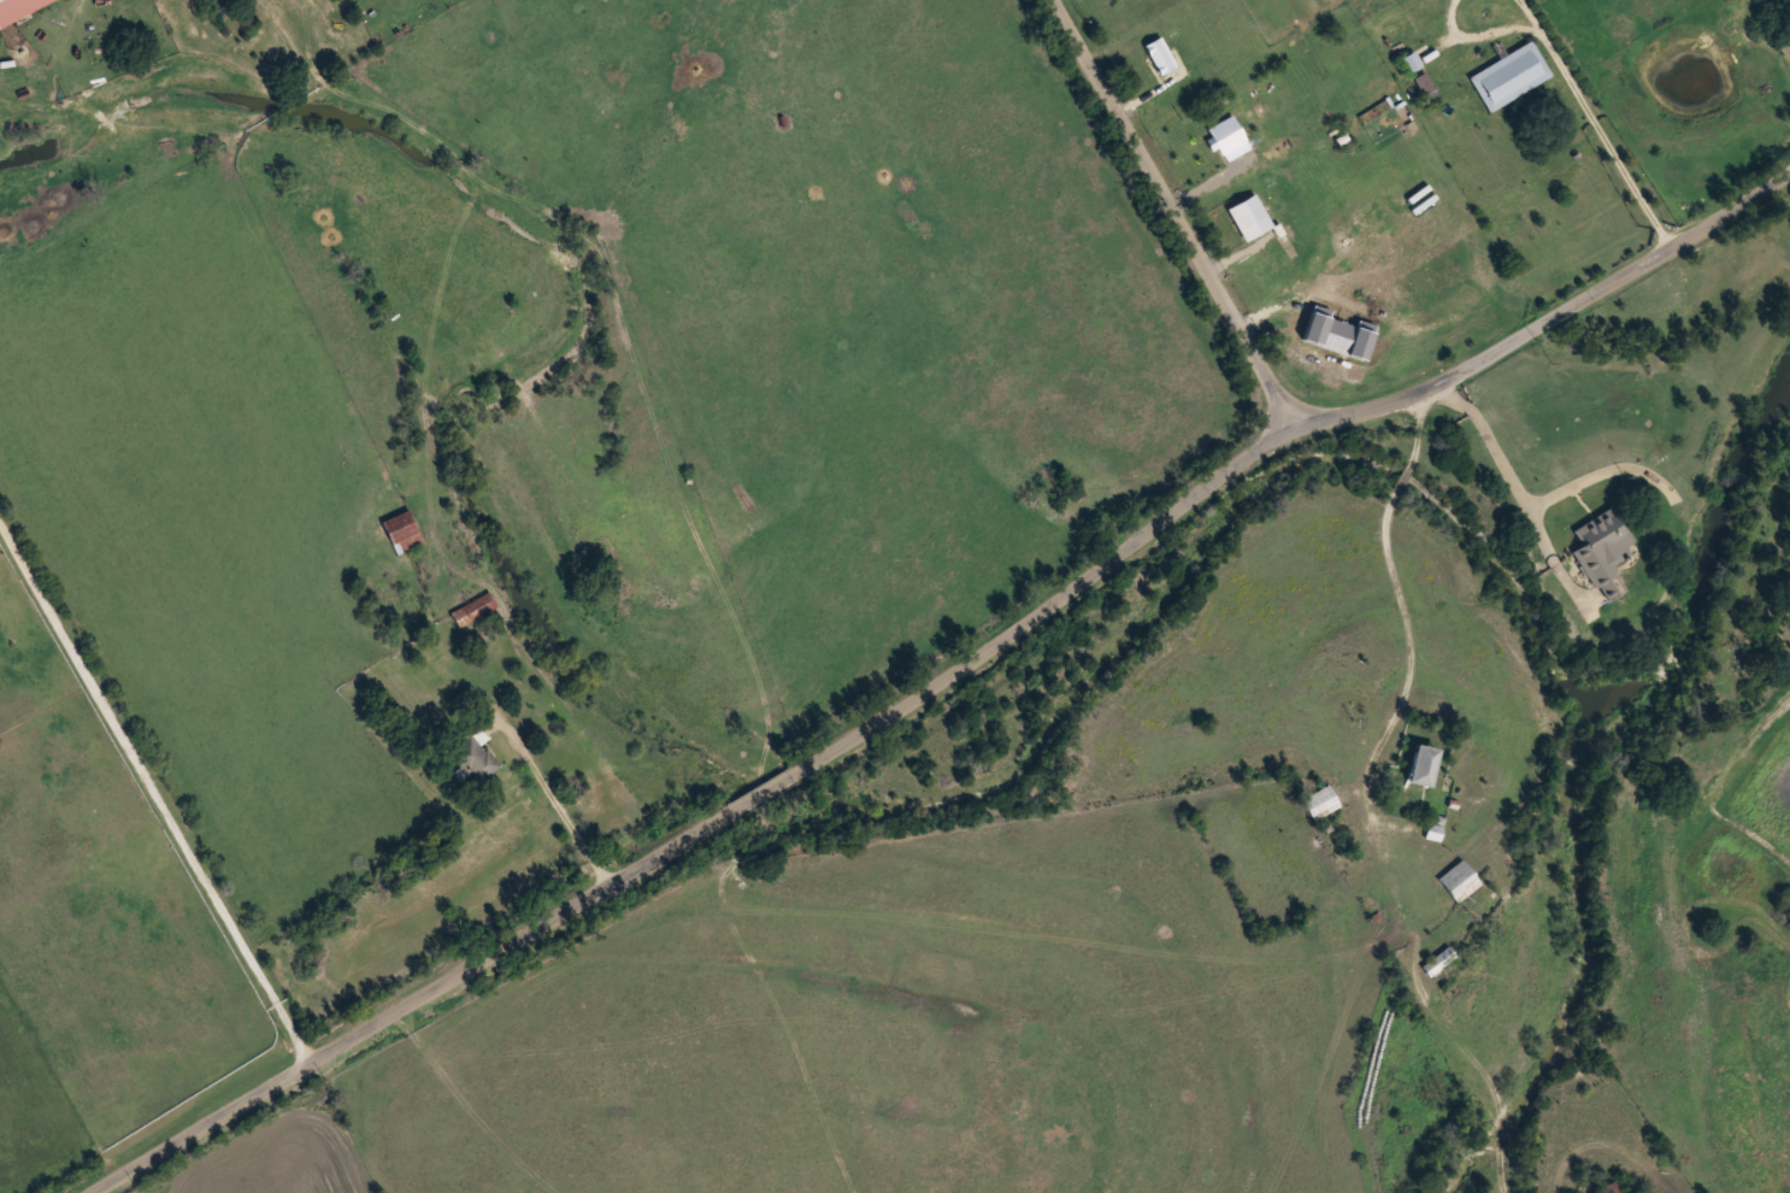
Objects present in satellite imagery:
building: (18, 8)
building: (1509, 75)
road: (1171, 214)
road: (1549, 317)
building: (404, 531)
building: (1600, 554)
building: (473, 610)
building: (476, 756)
building: (1424, 764)
building: (1320, 801)
road: (696, 817)
building: (1459, 880)
building: (1438, 960)
building: (1612, 1187)

